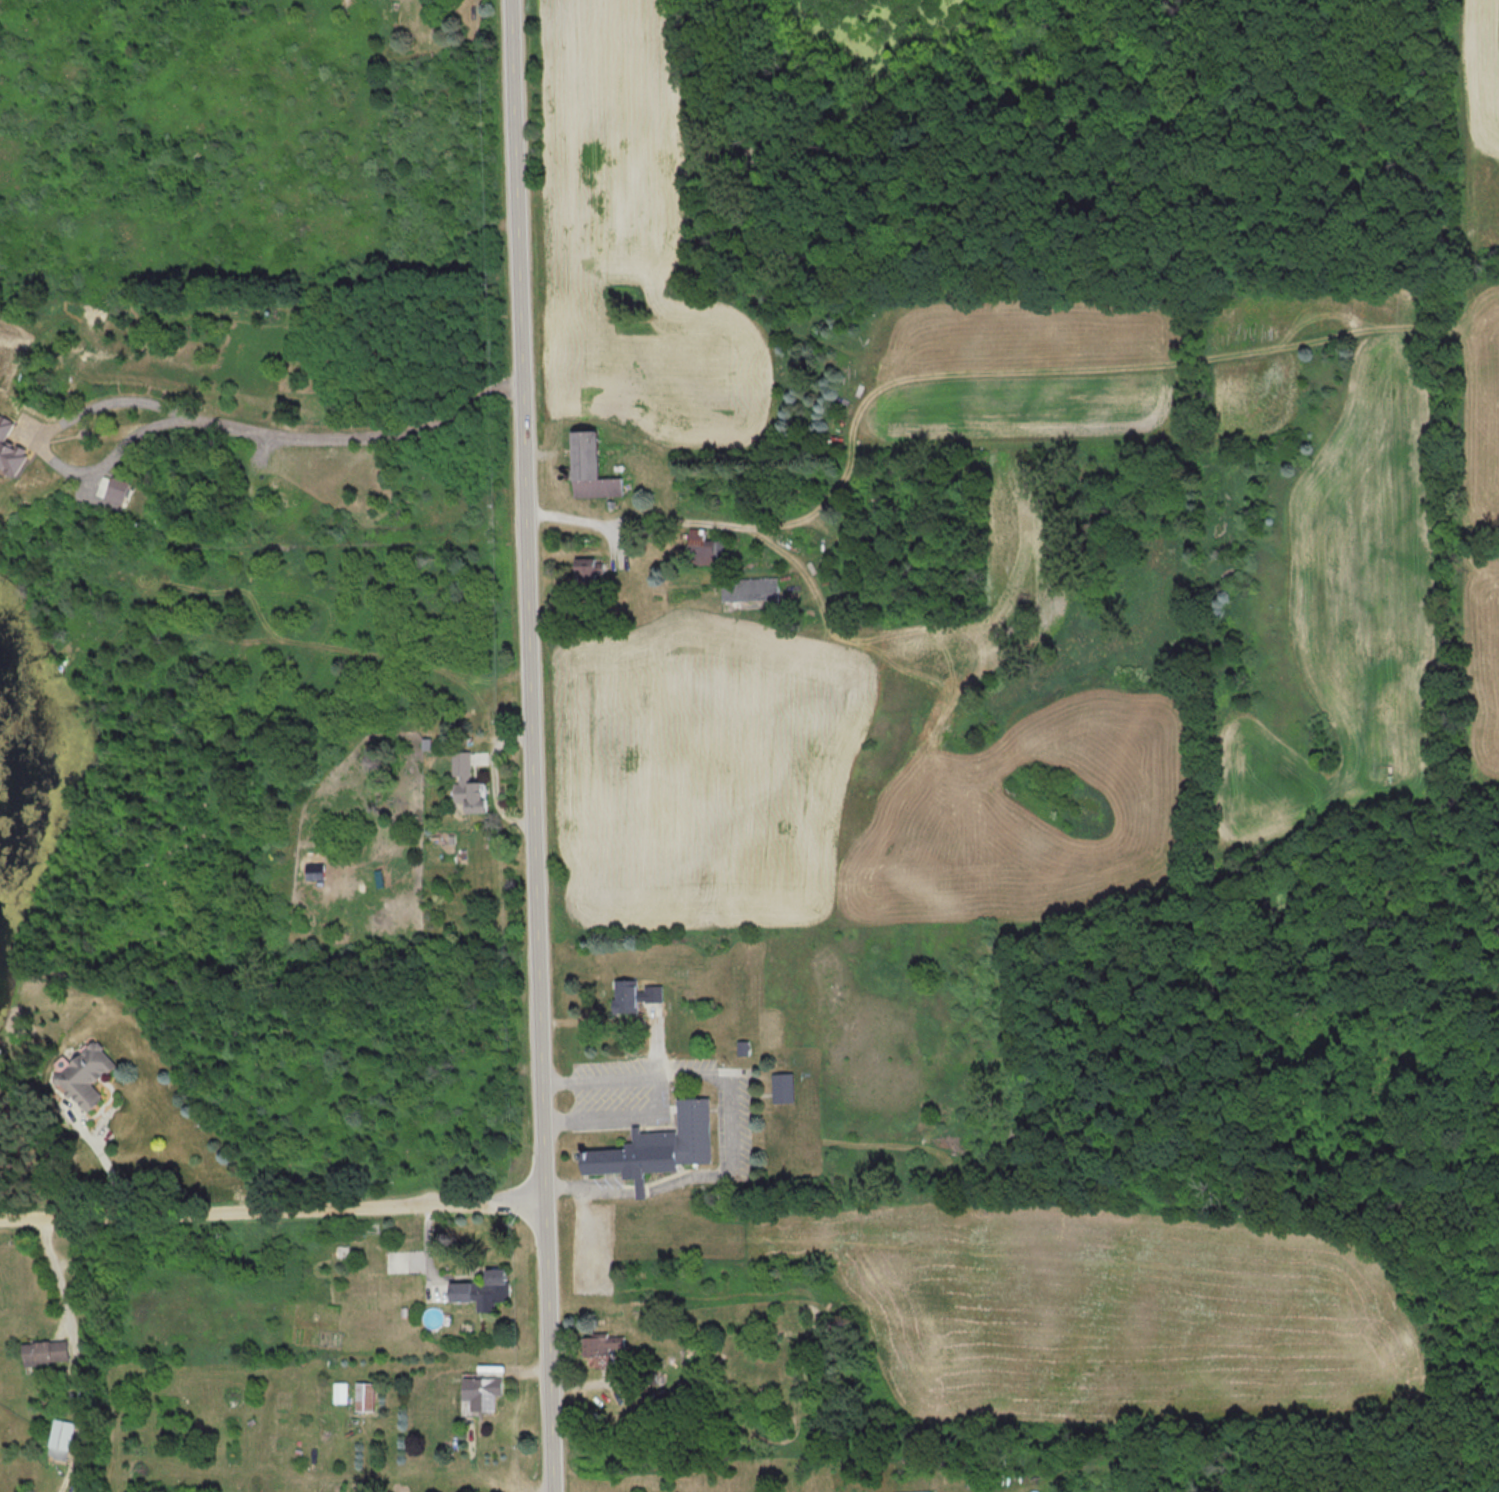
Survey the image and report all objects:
road: (194, 418)
building: (592, 467)
road: (626, 520)
building: (705, 548)
building: (589, 573)
building: (752, 589)
road: (539, 746)
road: (492, 778)
building: (470, 785)
building: (635, 996)
building: (90, 1075)
road: (660, 1083)
parking lot: (617, 1085)
building: (784, 1087)
parking lot: (743, 1120)
building: (659, 1137)
road: (722, 1164)
parking lot: (599, 1173)
road: (276, 1203)
parking lot: (594, 1235)
building: (485, 1290)
building: (604, 1345)
building: (46, 1352)
road: (77, 1352)
building: (341, 1391)
building: (483, 1392)
building: (366, 1396)
building: (61, 1439)

